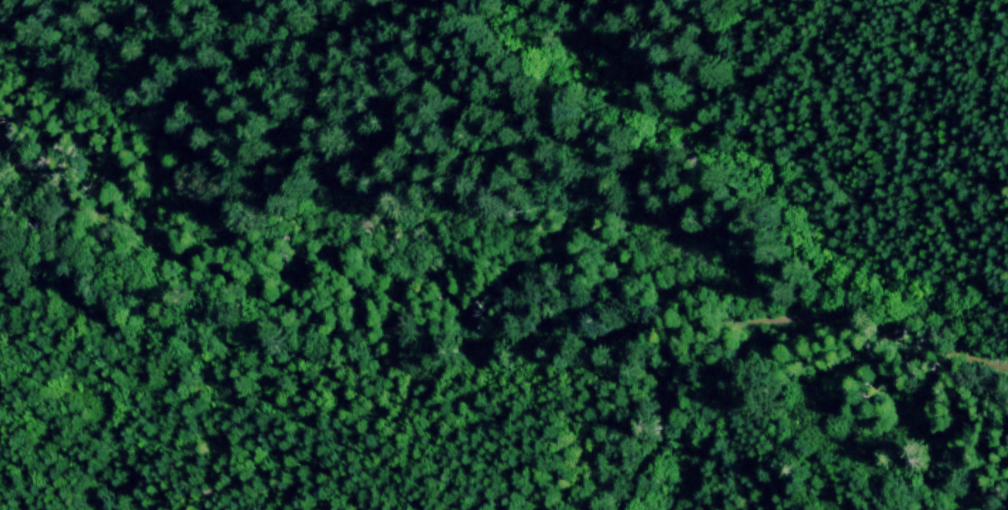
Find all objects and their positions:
road: (488, 315)

